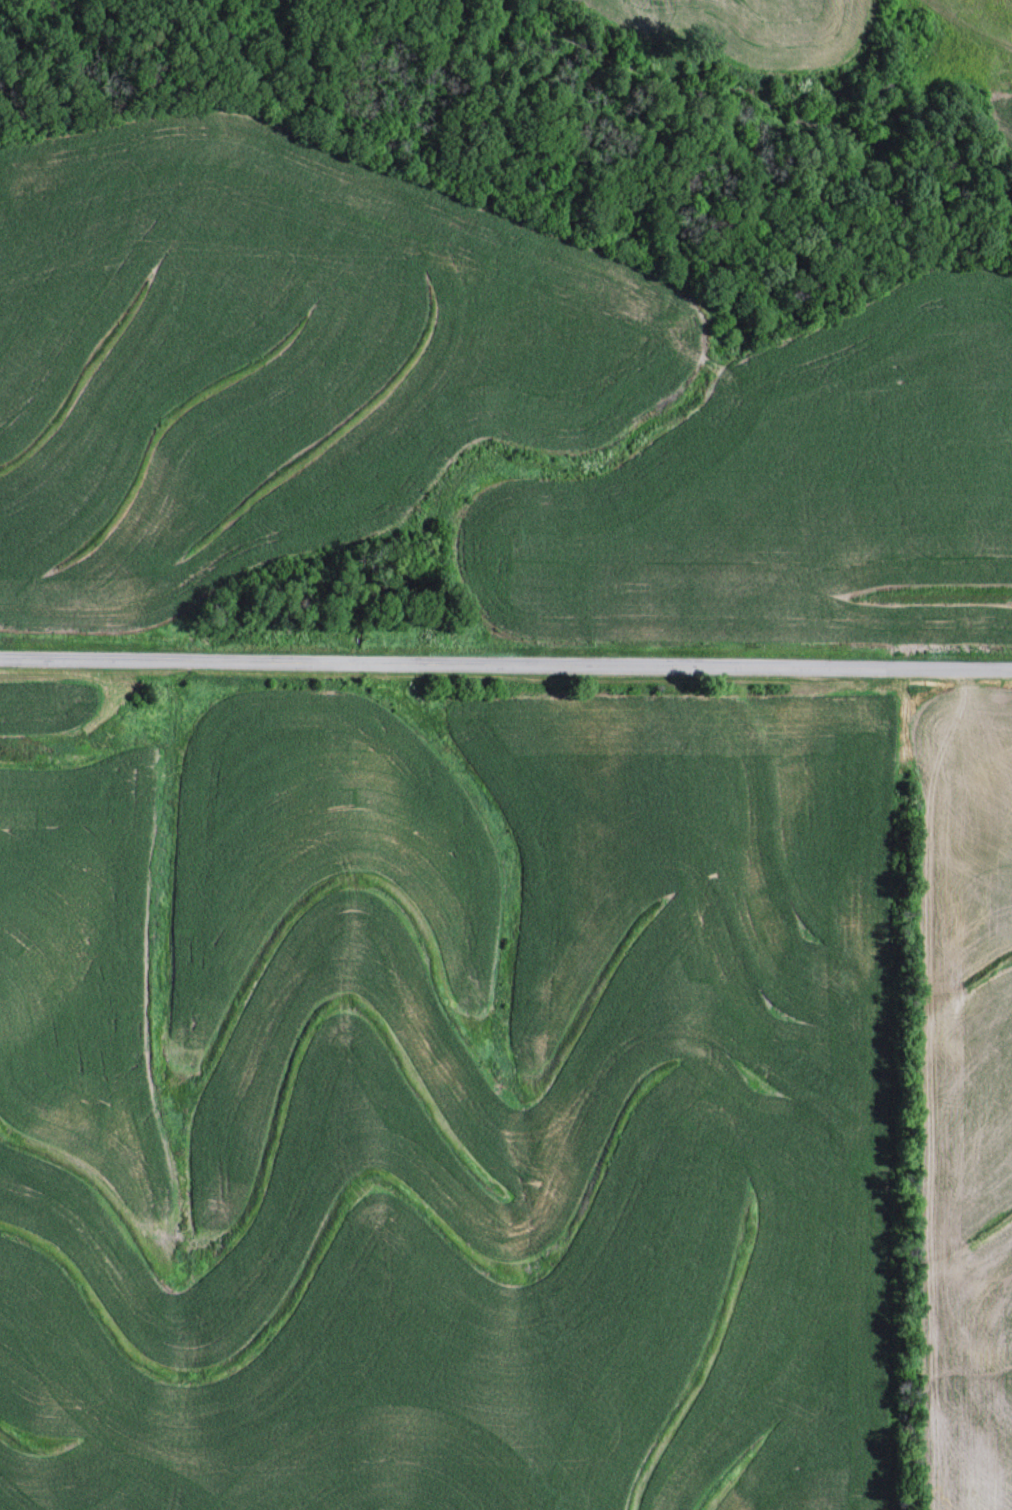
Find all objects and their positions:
road: (506, 673)

